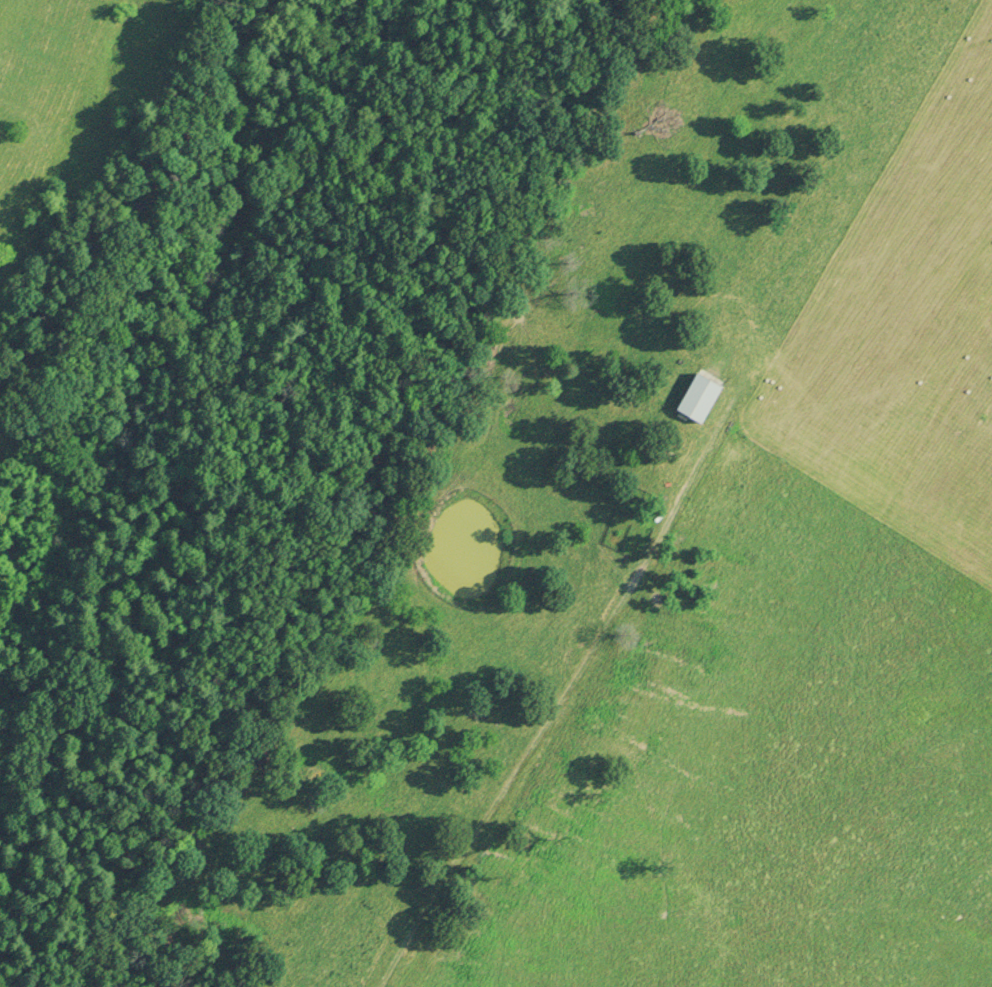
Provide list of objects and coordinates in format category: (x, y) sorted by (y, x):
building: (707, 396)

